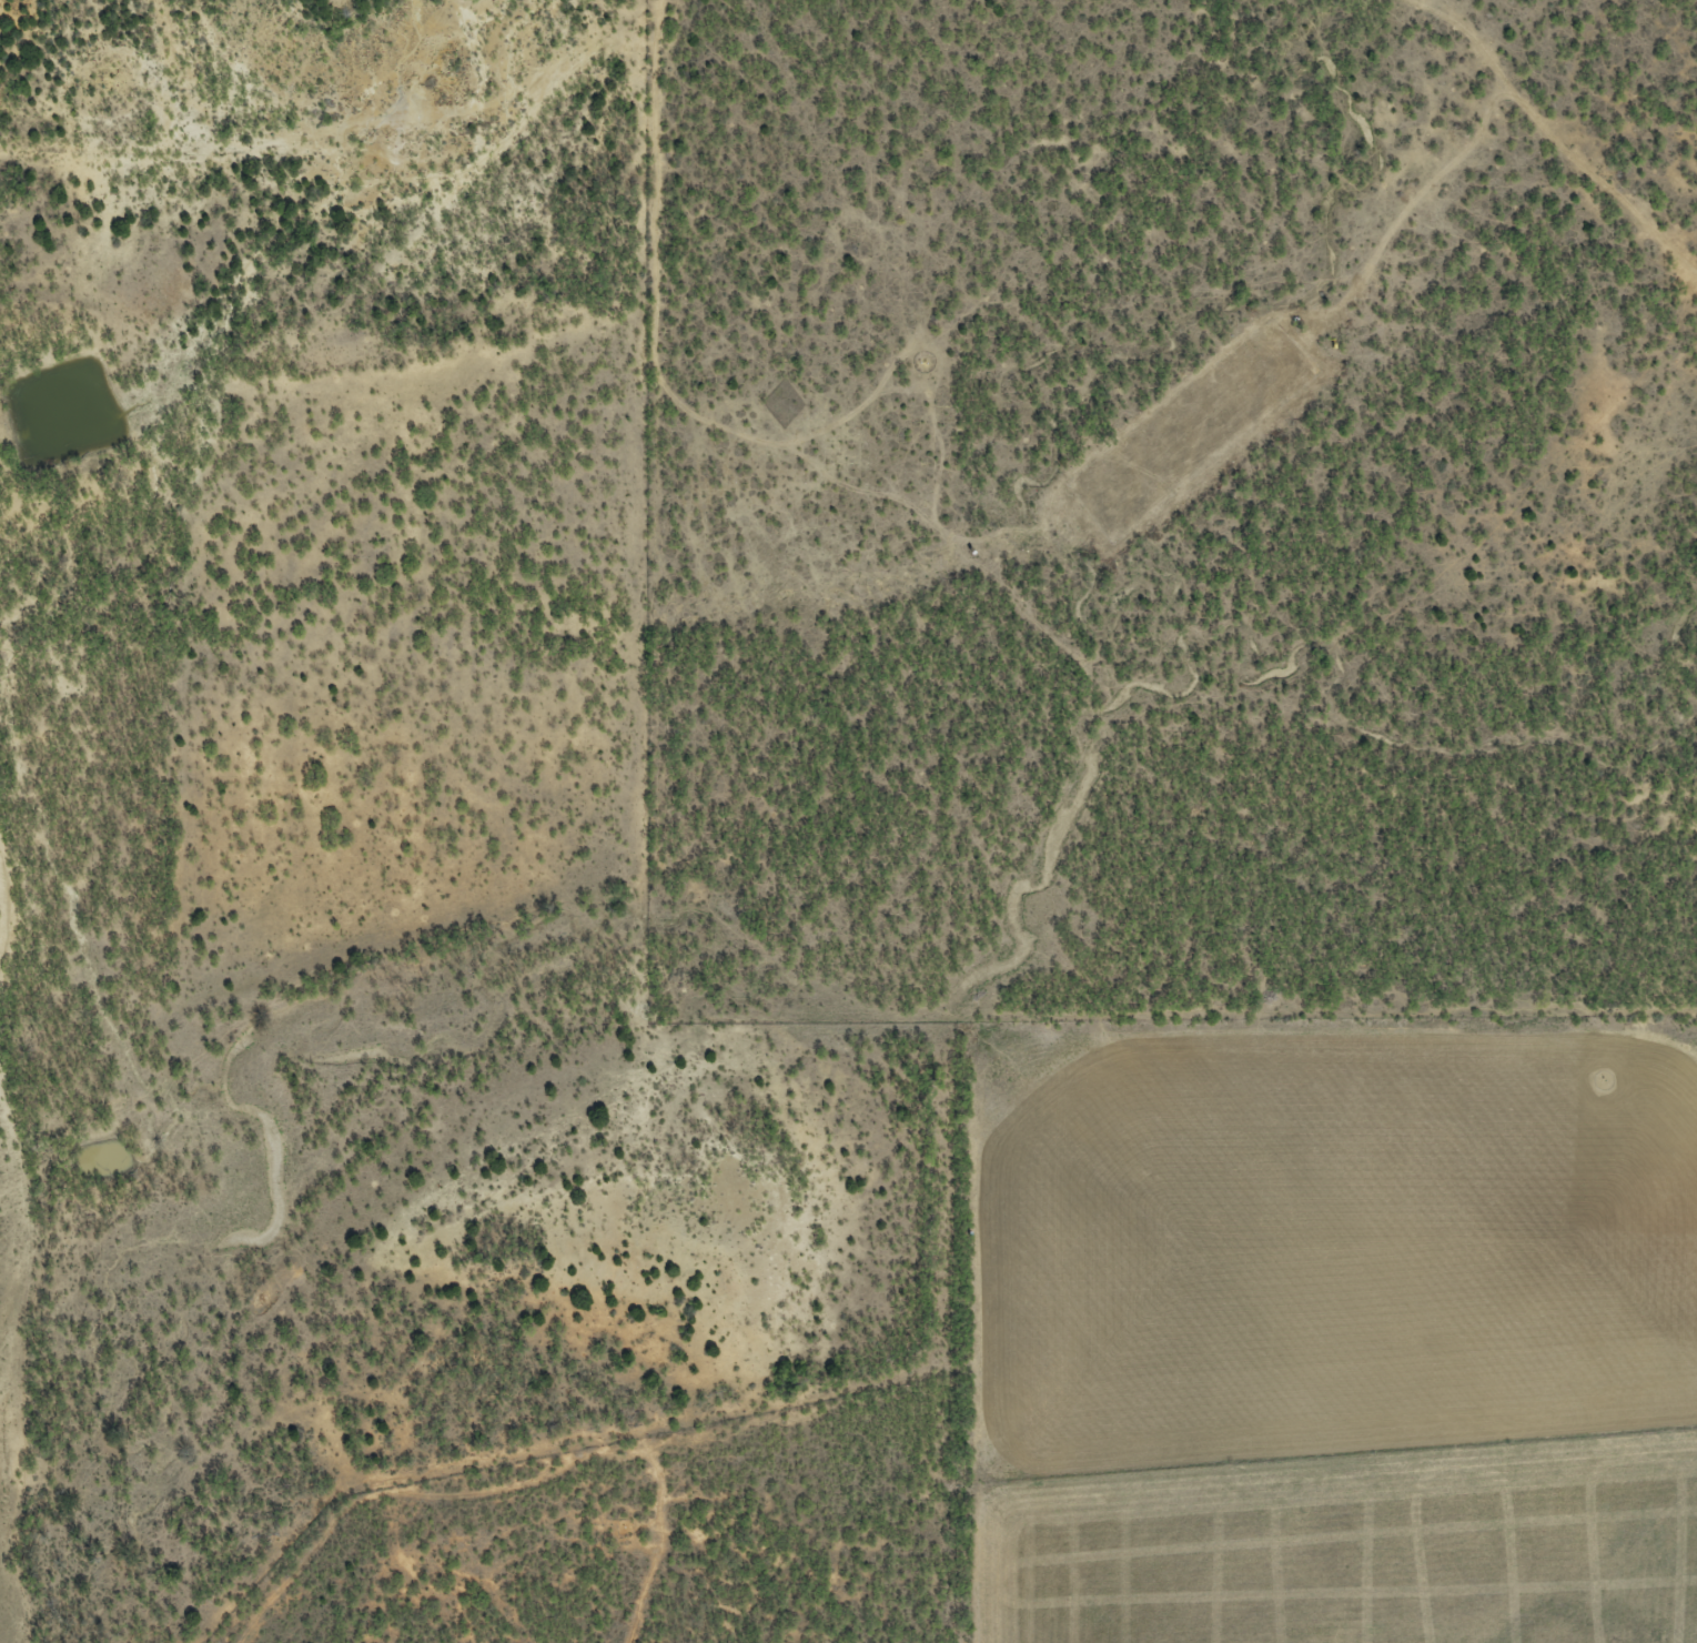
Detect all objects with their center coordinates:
road: (173, 1484)

